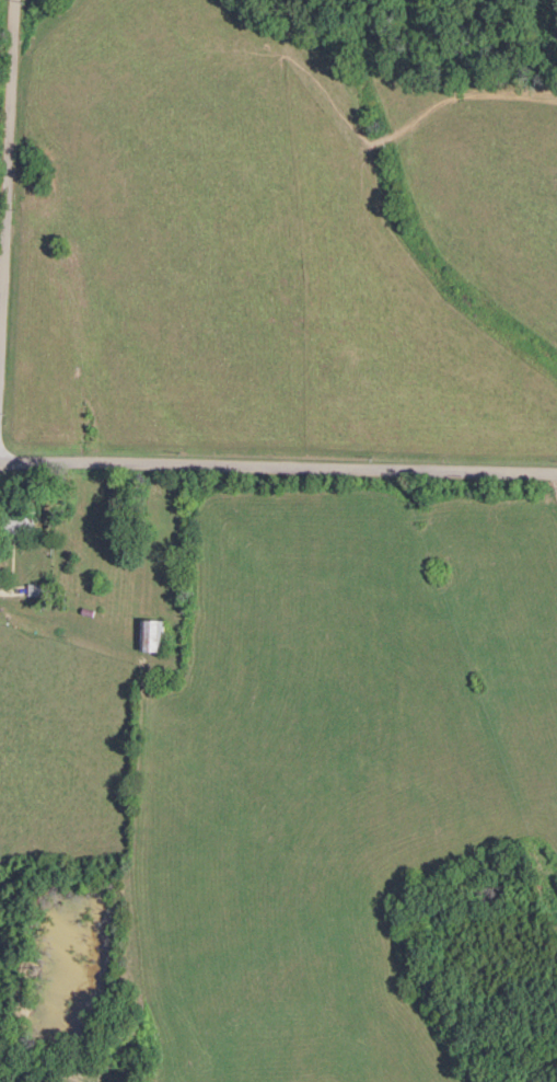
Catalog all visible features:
road: (4, 131)
road: (278, 457)
building: (152, 634)

